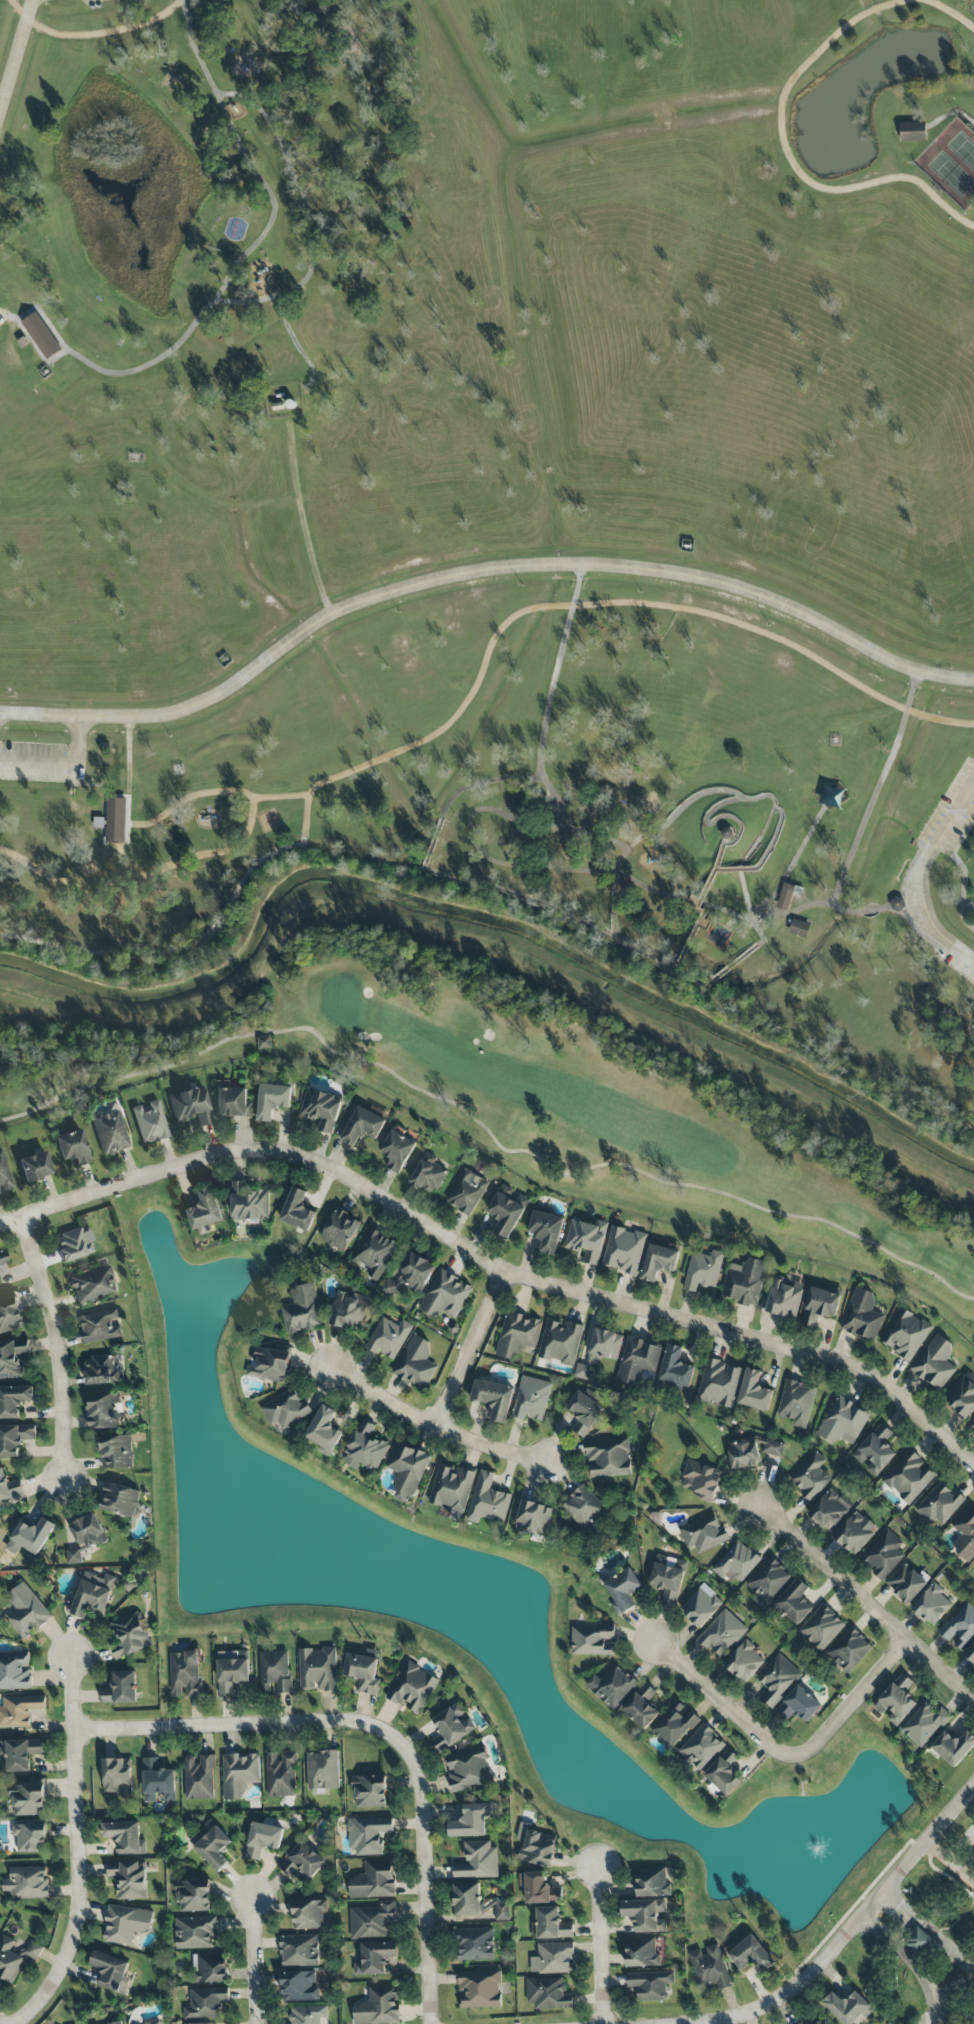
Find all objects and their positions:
parking lot: (94, 3)
road: (187, 6)
road: (949, 12)
road: (92, 34)
road: (17, 56)
road: (952, 113)
building: (915, 132)
road: (787, 153)
park: (952, 164)
road: (308, 214)
road: (235, 268)
parking lot: (3, 318)
building: (42, 336)
road: (297, 345)
road: (41, 352)
park: (502, 490)
road: (217, 503)
road: (301, 518)
road: (480, 571)
road: (558, 671)
road: (464, 703)
road: (62, 761)
parking lot: (44, 762)
road: (130, 770)
road: (509, 779)
road: (103, 787)
building: (832, 796)
road: (280, 797)
road: (759, 798)
parking lot: (952, 814)
building: (115, 821)
road: (714, 823)
road: (864, 826)
road: (244, 837)
road: (775, 839)
road: (795, 858)
road: (517, 861)
road: (736, 869)
road: (964, 871)
road: (916, 880)
building: (788, 895)
road: (765, 907)
road: (615, 909)
road: (696, 910)
road: (794, 913)
road: (572, 916)
river: (487, 921)
building: (799, 929)
parking lot: (961, 961)
building: (264, 1043)
building: (273, 1100)
building: (232, 1103)
building: (190, 1107)
park: (580, 1107)
building: (322, 1109)
building: (150, 1123)
building: (361, 1127)
building: (110, 1133)
building: (73, 1148)
building: (397, 1151)
building: (34, 1167)
building: (428, 1175)
building: (4, 1176)
building: (467, 1192)
building: (249, 1202)
building: (206, 1210)
building: (507, 1210)
building: (297, 1211)
building: (340, 1230)
building: (546, 1231)
building: (586, 1239)
building: (72, 1246)
building: (624, 1251)
building: (375, 1253)
building: (2, 1259)
building: (659, 1262)
road: (492, 1263)
building: (704, 1270)
building: (411, 1276)
building: (745, 1282)
building: (92, 1286)
building: (445, 1296)
building: (783, 1298)
building: (821, 1306)
building: (302, 1310)
building: (348, 1311)
building: (10, 1315)
building: (862, 1315)
building: (101, 1327)
building: (906, 1334)
building: (518, 1335)
building: (388, 1338)
building: (560, 1342)
road: (59, 1346)
road: (470, 1347)
building: (600, 1352)
building: (13, 1358)
building: (638, 1360)
building: (935, 1362)
building: (270, 1363)
building: (415, 1363)
building: (676, 1367)
building: (101, 1371)
building: (719, 1383)
building: (754, 1392)
building: (962, 1396)
building: (494, 1398)
building: (531, 1399)
building: (14, 1401)
building: (796, 1403)
building: (286, 1410)
building: (104, 1411)
building: (585, 1412)
building: (843, 1422)
road: (434, 1424)
building: (972, 1424)
building: (324, 1431)
building: (15, 1439)
building: (366, 1448)
building: (774, 1448)
building: (875, 1451)
building: (117, 1452)
building: (743, 1453)
building: (608, 1458)
building: (407, 1470)
building: (811, 1477)
building: (909, 1477)
building: (702, 1480)
building: (452, 1488)
building: (10, 1489)
building: (120, 1500)
building: (488, 1501)
building: (940, 1505)
building: (584, 1508)
building: (829, 1510)
building: (532, 1518)
building: (88, 1531)
building: (703, 1533)
building: (854, 1533)
building: (965, 1535)
building: (30, 1537)
building: (884, 1555)
building: (737, 1562)
building: (668, 1577)
building: (768, 1582)
building: (906, 1583)
building: (623, 1591)
building: (91, 1595)
road: (868, 1602)
building: (793, 1603)
building: (932, 1605)
building: (701, 1606)
building: (26, 1611)
building: (960, 1626)
building: (821, 1628)
building: (722, 1634)
building: (131, 1635)
building: (593, 1640)
building: (849, 1649)
building: (970, 1654)
building: (744, 1662)
building: (318, 1669)
building: (232, 1670)
building: (274, 1671)
building: (364, 1671)
building: (15, 1672)
building: (185, 1674)
building: (778, 1679)
building: (612, 1687)
building: (413, 1688)
building: (121, 1689)
building: (897, 1701)
building: (642, 1706)
building: (798, 1706)
building: (19, 1710)
building: (925, 1723)
road: (239, 1724)
building: (674, 1725)
building: (452, 1727)
building: (702, 1747)
building: (954, 1747)
building: (20, 1754)
road: (785, 1754)
building: (323, 1770)
building: (469, 1771)
building: (239, 1774)
building: (723, 1774)
building: (281, 1775)
building: (117, 1777)
building: (199, 1778)
building: (158, 1781)
building: (370, 1791)
building: (28, 1799)
building: (470, 1821)
building: (368, 1835)
building: (30, 1837)
building: (125, 1837)
building: (263, 1839)
building: (212, 1845)
building: (536, 1847)
road: (78, 1849)
building: (302, 1861)
building: (478, 1861)
road: (950, 1861)
road: (967, 1861)
building: (129, 1879)
road: (426, 1879)
building: (373, 1881)
building: (27, 1883)
building: (652, 1883)
building: (538, 1888)
building: (193, 1895)
building: (477, 1903)
building: (309, 1915)
building: (646, 1915)
building: (372, 1921)
building: (126, 1924)
building: (551, 1925)
road: (929, 1929)
road: (848, 1931)
building: (195, 1933)
building: (918, 1941)
building: (475, 1945)
road: (600, 1945)
building: (299, 1951)
building: (641, 1953)
building: (751, 1955)
building: (15, 1958)
building: (375, 1958)
building: (553, 1958)
road: (256, 1959)
road: (908, 1965)
building: (710, 1968)
building: (211, 1969)
building: (113, 1972)
building: (650, 1985)
building: (299, 1986)
building: (479, 1989)
road: (955, 1990)
building: (548, 1994)
building: (206, 2003)
building: (378, 2007)
building: (849, 2008)
building: (308, 2015)
building: (825, 2022)
building: (117, 2023)
building: (154, 2023)
building: (203, 2023)
building: (802, 2023)

